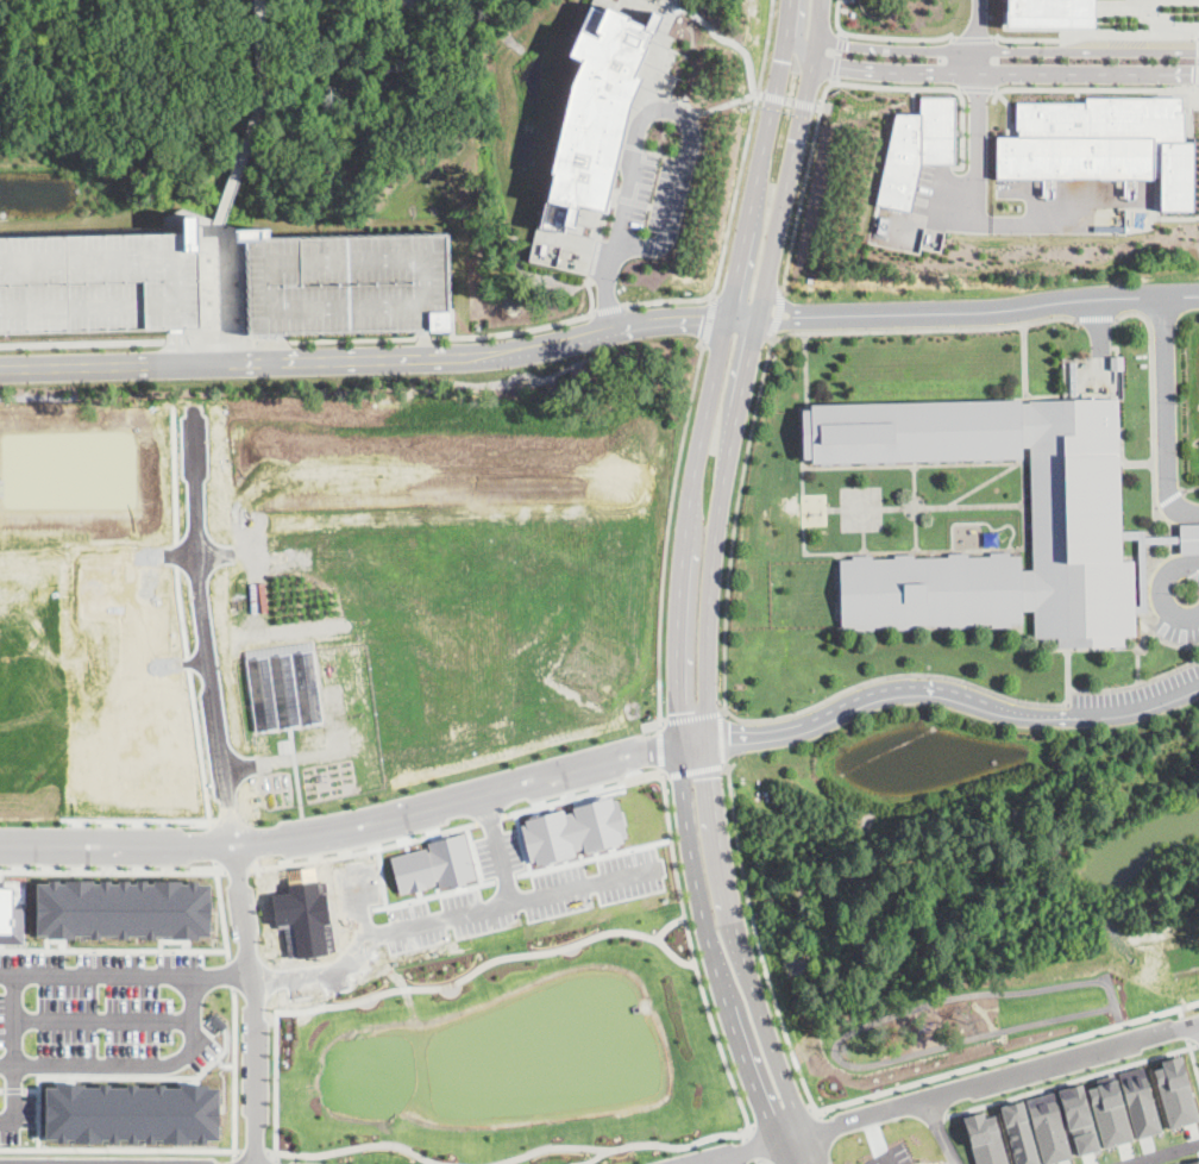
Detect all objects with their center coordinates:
road: (667, 2)
road: (1117, 7)
building: (1049, 13)
road: (978, 25)
road: (1096, 30)
road: (880, 37)
road: (974, 38)
road: (728, 40)
road: (1006, 51)
road: (839, 56)
road: (1198, 60)
road: (972, 71)
road: (833, 82)
road: (977, 87)
road: (1093, 87)
road: (1178, 89)
road: (752, 93)
road: (761, 94)
road: (773, 96)
road: (1175, 96)
road: (789, 101)
road: (804, 104)
road: (688, 105)
building: (595, 106)
road: (818, 106)
road: (1010, 107)
road: (253, 118)
road: (689, 120)
building: (1103, 144)
road: (747, 149)
building: (918, 149)
road: (975, 201)
road: (1179, 217)
building: (344, 282)
parking garage: (344, 282)
building: (94, 283)
parking garage: (94, 283)
road: (608, 284)
road: (214, 287)
road: (671, 299)
road: (780, 306)
road: (609, 307)
road: (1003, 308)
road: (778, 315)
road: (1093, 318)
road: (710, 320)
road: (777, 321)
road: (925, 327)
road: (445, 337)
road: (1093, 339)
road: (176, 340)
road: (221, 340)
road: (274, 340)
road: (82, 342)
road: (423, 344)
road: (177, 345)
road: (265, 348)
road: (379, 358)
road: (1024, 362)
building: (1116, 362)
road: (805, 369)
road: (713, 370)
road: (745, 370)
road: (1150, 396)
road: (1162, 414)
road: (801, 448)
road: (1023, 458)
road: (1136, 461)
road: (1010, 464)
road: (858, 465)
road: (1191, 488)
building: (1075, 496)
road: (1168, 499)
road: (986, 505)
road: (897, 507)
road: (830, 508)
road: (1155, 521)
road: (735, 525)
road: (668, 534)
building: (992, 538)
building: (1189, 538)
road: (862, 542)
road: (891, 550)
road: (1015, 550)
road: (1028, 556)
building: (1141, 574)
road: (1160, 590)
road: (206, 617)
road: (1167, 642)
road: (1078, 647)
road: (1137, 664)
road: (894, 675)
road: (1067, 675)
road: (1135, 683)
road: (952, 695)
road: (726, 741)
road: (663, 749)
road: (666, 799)
road: (357, 824)
road: (714, 830)
road: (365, 850)
road: (239, 869)
road: (113, 870)
road: (691, 870)
road: (571, 880)
building: (125, 909)
road: (221, 909)
road: (431, 913)
building: (10, 916)
road: (758, 943)
road: (113, 949)
road: (126, 974)
road: (230, 974)
road: (418, 985)
road: (255, 1001)
road: (1179, 1012)
road: (103, 1018)
parking lot: (94, 1020)
park: (968, 1022)
road: (766, 1024)
road: (1184, 1027)
road: (1198, 1044)
road: (1005, 1055)
road: (14, 1056)
road: (1192, 1058)
road: (134, 1064)
road: (224, 1065)
road: (749, 1066)
road: (234, 1072)
road: (109, 1076)
road: (1002, 1076)
road: (1072, 1079)
road: (31, 1088)
road: (2, 1089)
road: (14, 1089)
building: (1175, 1091)
building: (1140, 1102)
building: (1109, 1112)
building: (132, 1113)
road: (784, 1118)
building: (1079, 1119)
road: (751, 1125)
building: (1048, 1127)
road: (940, 1132)
building: (1018, 1133)
road: (728, 1134)
building: (985, 1139)
road: (360, 1145)
road: (751, 1146)
road: (120, 1149)
road: (255, 1149)
road: (751, 1149)
road: (814, 1149)
road: (271, 1151)
road: (780, 1152)
road: (1159, 1152)
road: (276, 1156)
road: (590, 1160)
road: (758, 1160)
road: (234, 1162)
road: (276, 1162)
building: (1193, 1162)
road: (770, 1163)
road: (1124, 1163)

